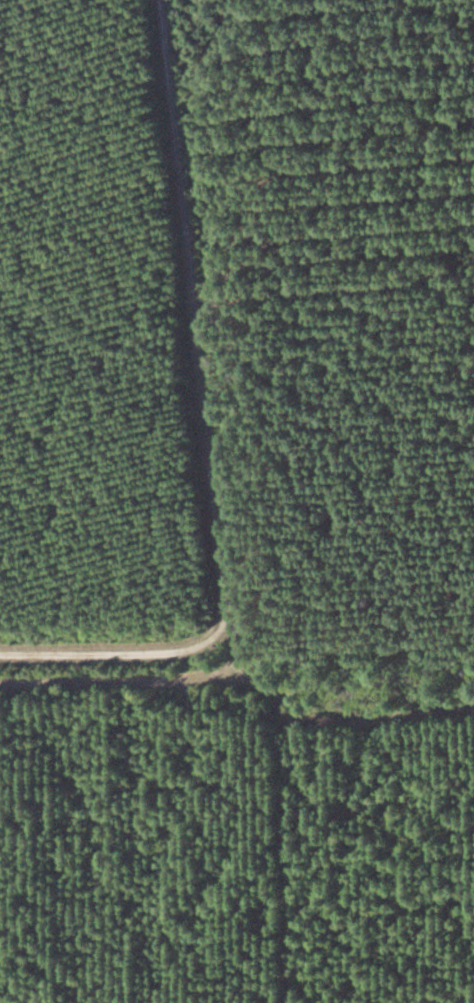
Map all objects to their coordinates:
road: (204, 425)

